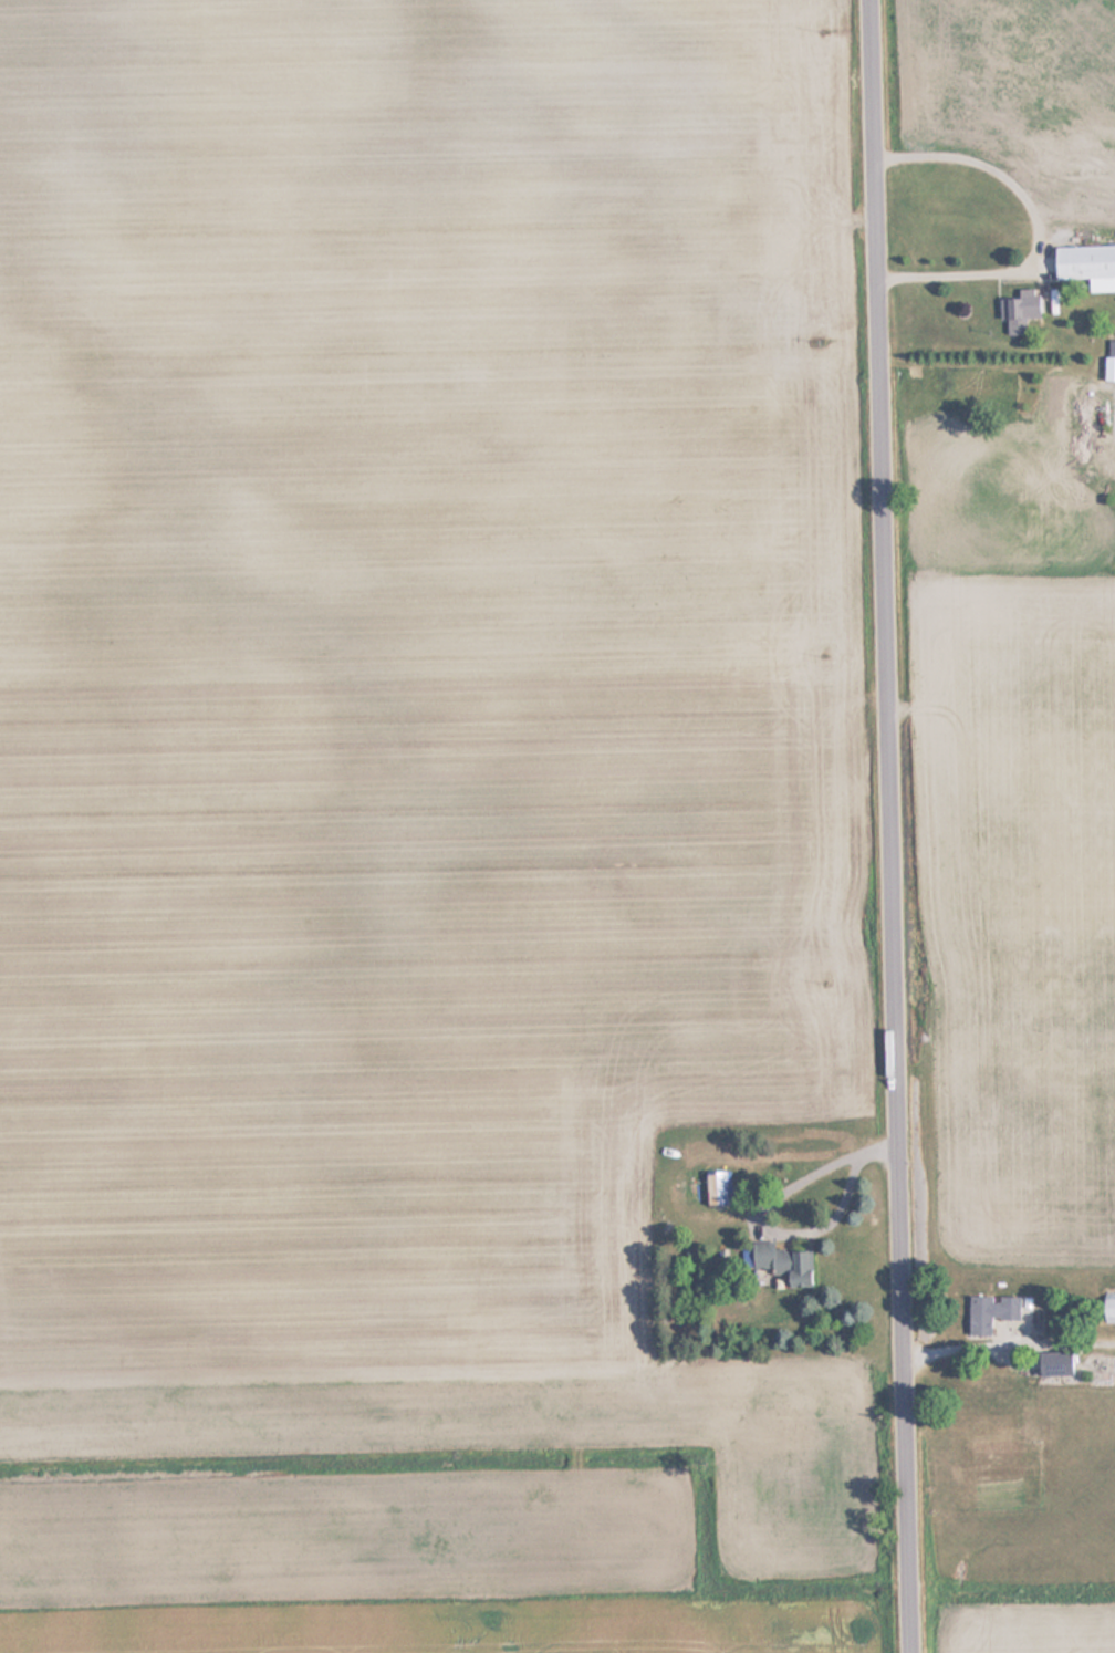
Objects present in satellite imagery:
road: (1033, 227)
building: (1085, 267)
building: (1019, 312)
road: (896, 825)
building: (716, 1187)
building: (784, 1264)
building: (1107, 1308)
building: (990, 1312)

